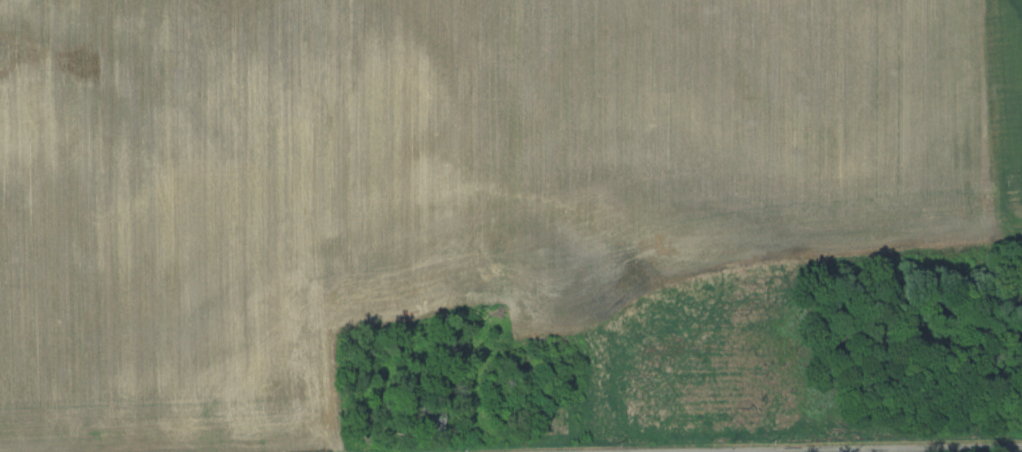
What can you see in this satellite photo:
building: (425, 419)
road: (977, 451)

